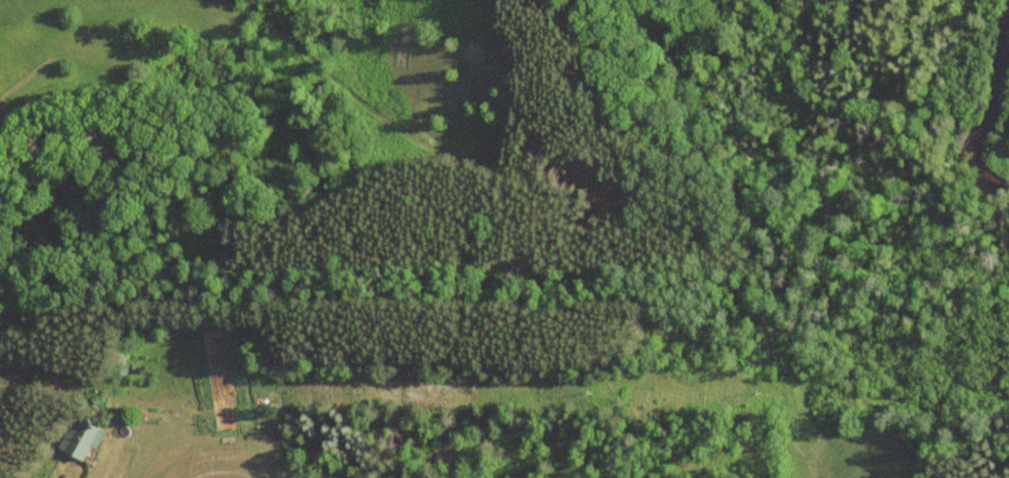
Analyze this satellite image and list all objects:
river: (990, 112)
building: (91, 440)

